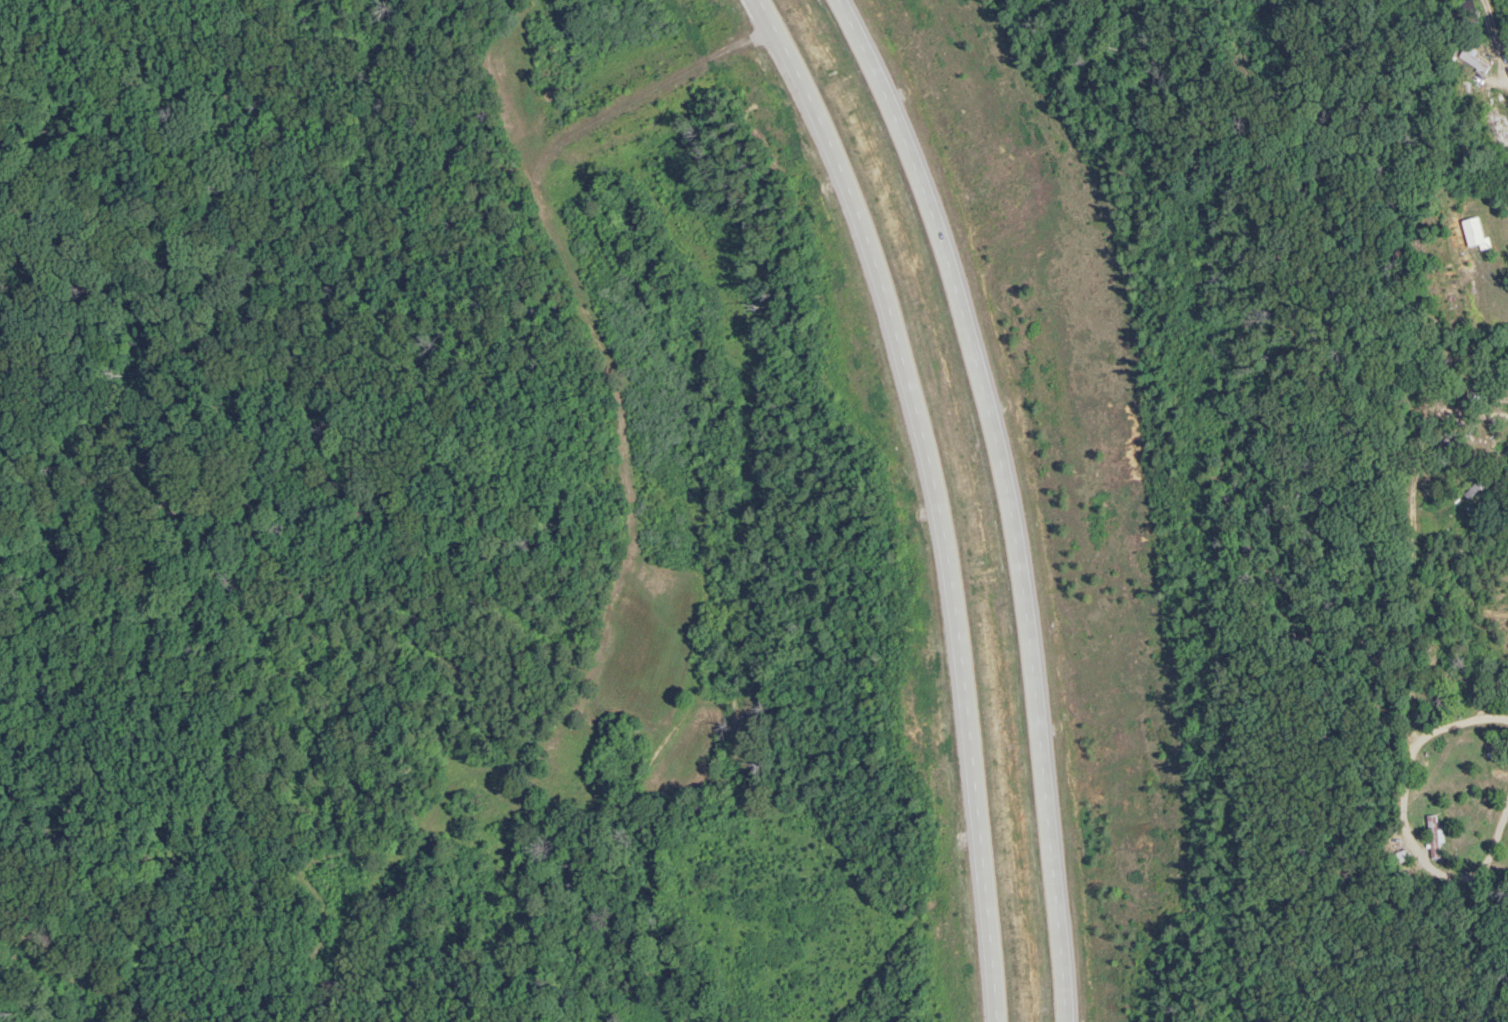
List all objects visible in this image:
building: (1478, 234)
road: (934, 496)
road: (994, 499)
road: (1409, 582)
building: (1431, 834)

